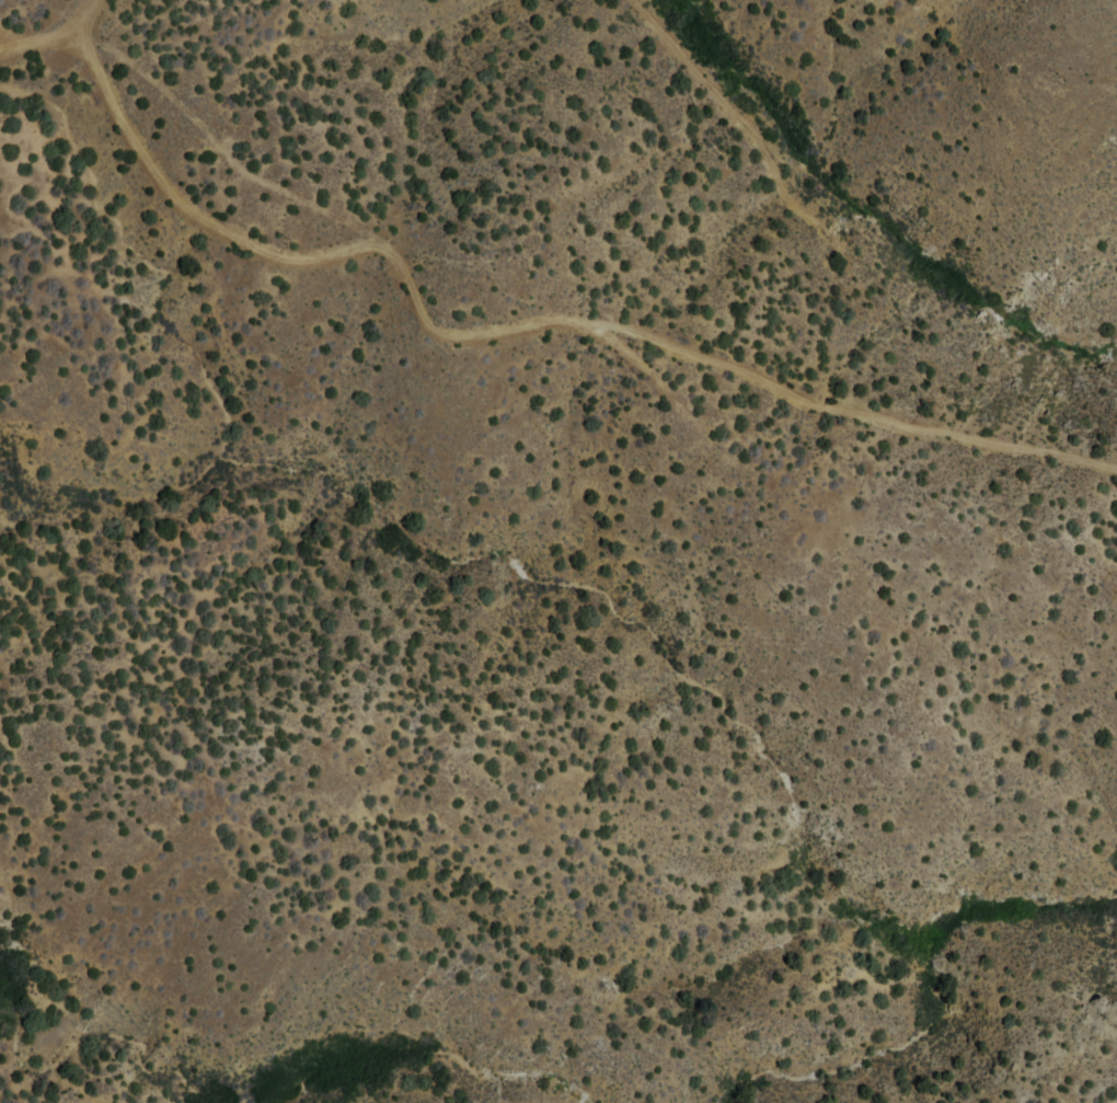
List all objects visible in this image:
road: (90, 11)
road: (42, 36)
road: (530, 315)

